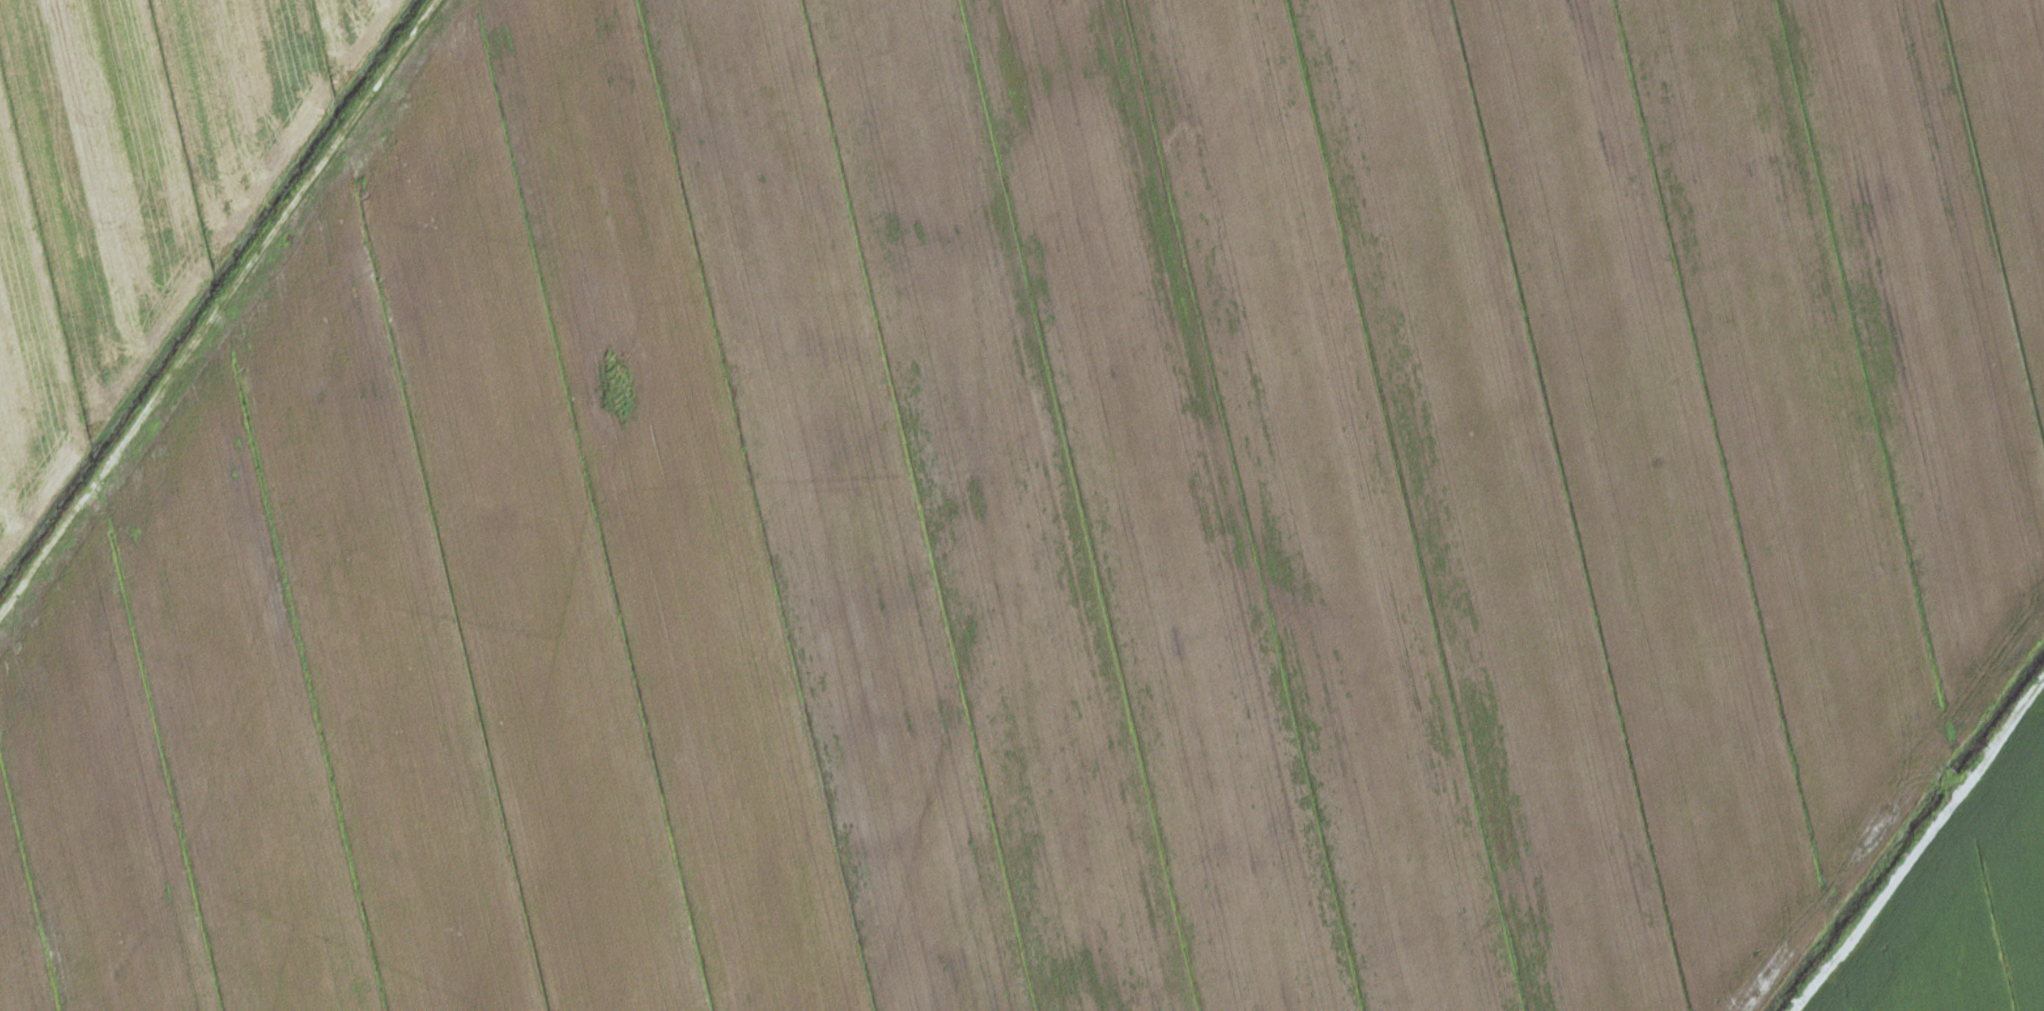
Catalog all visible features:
crop: (1059, 516)
road: (1917, 845)
crop: (1962, 904)

